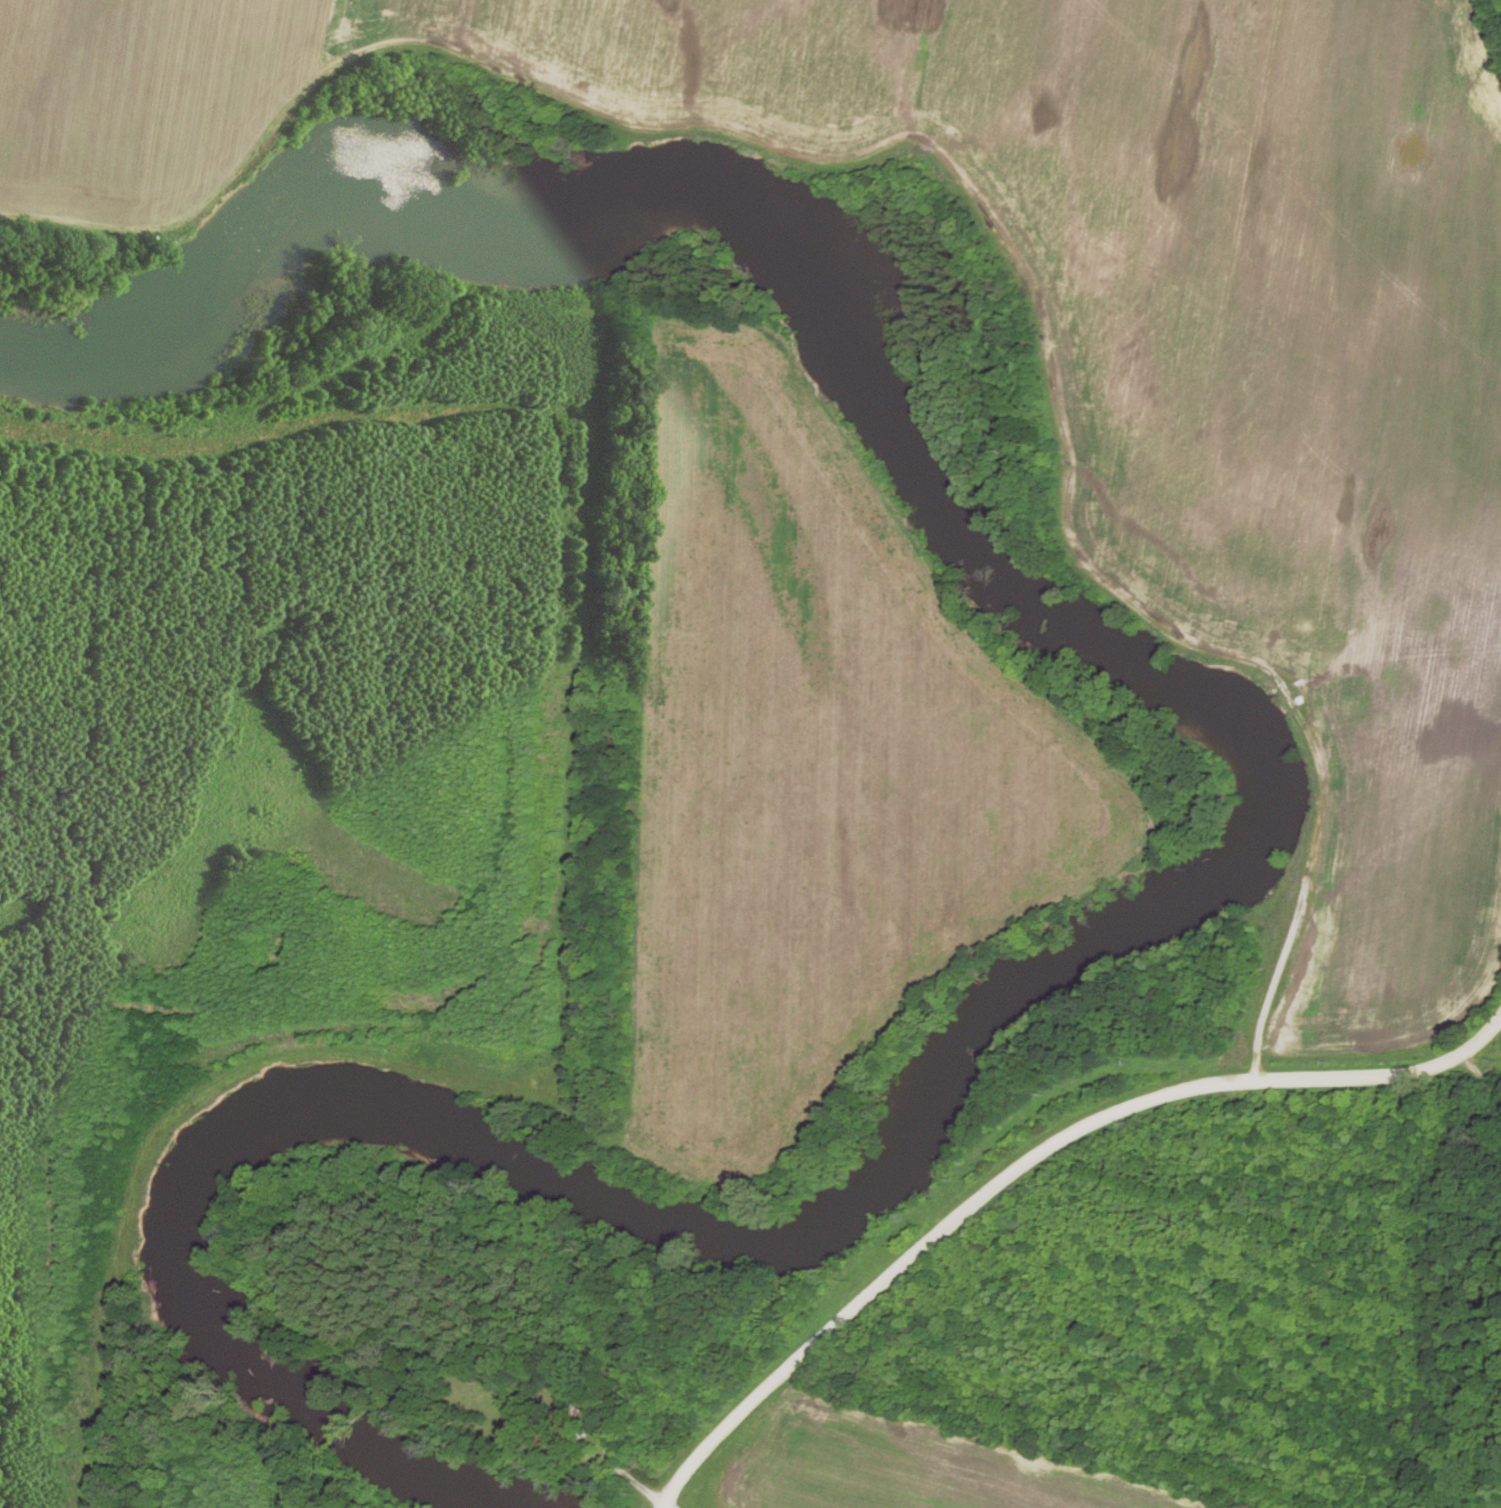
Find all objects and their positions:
river: (1263, 837)
road: (1028, 1161)
building: (482, 1399)

